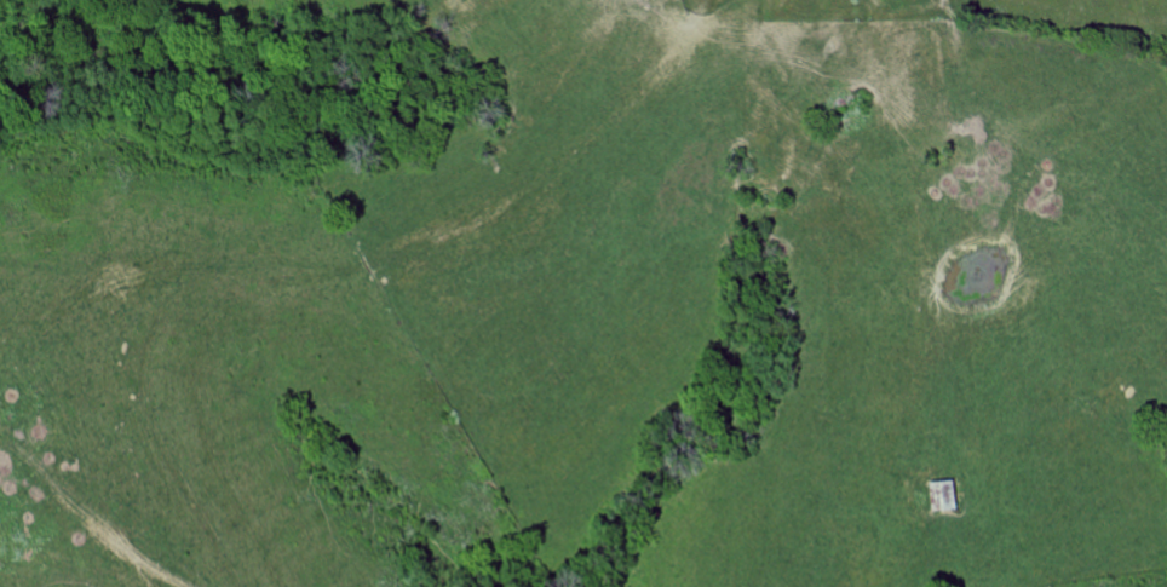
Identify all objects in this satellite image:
building: (947, 497)

